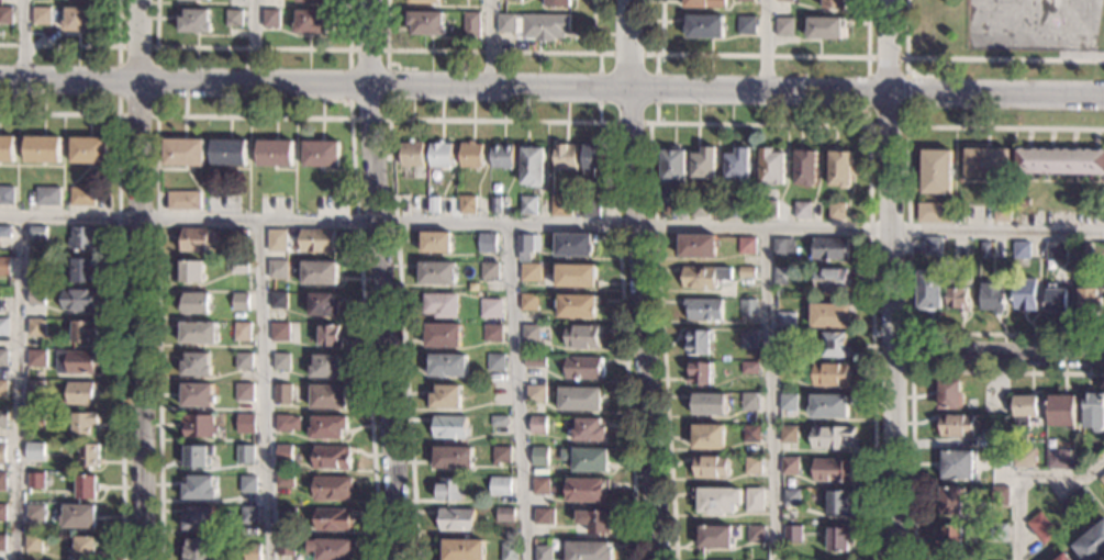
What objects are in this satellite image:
building: (200, 0)
building: (744, 0)
building: (312, 1)
building: (424, 1)
building: (784, 1)
building: (557, 2)
building: (694, 3)
building: (833, 3)
building: (5, 15)
building: (41, 15)
building: (234, 18)
building: (270, 19)
building: (79, 20)
building: (193, 21)
building: (310, 22)
building: (426, 23)
building: (505, 23)
building: (470, 24)
building: (745, 25)
building: (545, 26)
building: (704, 26)
building: (784, 26)
building: (825, 29)
road: (1089, 30)
road: (24, 40)
road: (252, 42)
road: (492, 43)
road: (628, 44)
road: (763, 44)
road: (81, 46)
road: (1030, 48)
road: (252, 49)
road: (489, 52)
road: (659, 53)
road: (590, 54)
road: (624, 54)
road: (765, 55)
road: (973, 59)
road: (551, 88)
road: (598, 88)
road: (651, 89)
road: (865, 92)
road: (904, 92)
road: (607, 115)
road: (645, 115)
road: (155, 116)
road: (250, 116)
road: (387, 120)
road: (495, 121)
road: (626, 123)
road: (752, 124)
road: (1004, 127)
building: (7, 148)
building: (43, 149)
building: (89, 150)
building: (183, 152)
building: (228, 152)
building: (441, 153)
building: (275, 154)
building: (321, 154)
building: (412, 155)
building: (471, 155)
building: (501, 156)
building: (565, 157)
building: (592, 159)
building: (1059, 163)
building: (703, 164)
building: (985, 164)
building: (737, 165)
building: (672, 166)
building: (532, 167)
building: (770, 167)
building: (804, 168)
building: (838, 169)
building: (935, 171)
building: (47, 195)
building: (7, 197)
building: (82, 198)
building: (183, 201)
building: (1023, 201)
building: (417, 204)
building: (467, 204)
building: (433, 205)
building: (494, 205)
building: (527, 205)
building: (561, 206)
building: (590, 209)
building: (678, 209)
building: (699, 209)
building: (767, 209)
building: (731, 210)
building: (801, 211)
building: (835, 211)
building: (1001, 212)
building: (933, 213)
road: (551, 222)
building: (4, 232)
building: (37, 233)
building: (237, 236)
building: (82, 238)
building: (196, 239)
building: (277, 240)
building: (316, 242)
building: (435, 243)
building: (487, 243)
building: (573, 245)
building: (745, 245)
building: (696, 246)
building: (782, 247)
building: (933, 247)
building: (526, 248)
building: (828, 248)
building: (984, 249)
building: (1021, 250)
building: (1055, 251)
building: (1084, 251)
building: (4, 265)
building: (37, 265)
building: (239, 267)
building: (85, 270)
building: (278, 270)
building: (489, 270)
building: (191, 271)
building: (529, 272)
building: (746, 272)
building: (319, 273)
building: (437, 273)
building: (576, 276)
building: (781, 276)
building: (703, 277)
road: (119, 278)
building: (830, 279)
road: (889, 279)
road: (141, 280)
road: (377, 280)
building: (929, 290)
building: (778, 293)
building: (1024, 294)
building: (956, 295)
building: (992, 295)
building: (36, 296)
building: (1089, 299)
building: (278, 300)
building: (1056, 300)
building: (79, 301)
building: (528, 302)
building: (196, 303)
building: (239, 303)
building: (324, 305)
building: (439, 305)
building: (577, 306)
building: (746, 307)
building: (490, 309)
building: (703, 310)
building: (829, 316)
building: (785, 321)
road: (640, 324)
building: (3, 327)
building: (36, 327)
road: (906, 328)
building: (85, 332)
building: (242, 332)
building: (279, 332)
building: (199, 333)
building: (492, 333)
building: (529, 334)
building: (328, 335)
building: (443, 335)
road: (906, 335)
building: (582, 336)
building: (784, 339)
building: (747, 340)
building: (698, 343)
building: (835, 345)
road: (995, 356)
building: (3, 358)
building: (36, 358)
building: (244, 361)
building: (281, 361)
building: (495, 362)
building: (534, 362)
building: (75, 363)
building: (196, 365)
building: (448, 365)
building: (326, 366)
building: (582, 368)
building: (748, 368)
building: (785, 370)
road: (1006, 372)
building: (700, 373)
building: (830, 374)
building: (537, 377)
road: (18, 387)
building: (3, 389)
building: (36, 389)
road: (265, 389)
road: (516, 391)
road: (768, 392)
building: (82, 393)
building: (244, 393)
building: (282, 393)
building: (536, 394)
building: (948, 394)
building: (198, 395)
building: (327, 397)
building: (446, 397)
building: (1002, 397)
building: (580, 399)
building: (749, 402)
building: (787, 402)
building: (709, 404)
building: (828, 406)
building: (1023, 410)
building: (1061, 411)
building: (1093, 411)
building: (3, 419)
building: (35, 421)
building: (499, 422)
building: (287, 423)
building: (83, 424)
building: (246, 424)
building: (537, 425)
building: (956, 425)
building: (198, 426)
building: (448, 426)
building: (327, 428)
building: (589, 430)
building: (750, 434)
building: (788, 435)
building: (707, 437)
building: (832, 437)
building: (1001, 440)
building: (35, 448)
building: (283, 453)
building: (2, 455)
building: (245, 455)
building: (88, 456)
building: (198, 456)
building: (501, 456)
building: (539, 457)
building: (453, 458)
building: (1001, 458)
building: (1023, 458)
building: (331, 459)
building: (587, 459)
building: (1057, 459)
building: (958, 464)
building: (752, 466)
road: (910, 466)
building: (711, 467)
building: (789, 467)
building: (833, 470)
road: (1023, 477)
building: (285, 480)
building: (1102, 480)
building: (35, 481)
building: (2, 482)
building: (248, 485)
building: (501, 486)
building: (540, 486)
building: (86, 488)
building: (198, 489)
building: (332, 489)
building: (449, 490)
building: (587, 490)
building: (999, 495)
building: (791, 497)
building: (717, 500)
building: (754, 500)
building: (950, 500)
building: (1074, 502)
building: (839, 503)
building: (2, 513)
building: (35, 513)
building: (505, 515)
building: (79, 516)
building: (249, 516)
building: (544, 516)
building: (287, 517)
building: (197, 518)
building: (333, 520)
building: (456, 520)
building: (594, 520)
building: (1041, 528)
building: (999, 533)
building: (792, 534)
building: (755, 535)
building: (714, 537)
building: (952, 538)
building: (839, 539)
building: (2, 541)
building: (33, 542)
building: (1092, 545)
building: (286, 547)
building: (86, 548)
building: (200, 549)
building: (330, 549)
building: (464, 550)
building: (588, 550)
building: (252, 551)
building: (545, 551)
building: (510, 552)
building: (1063, 558)

